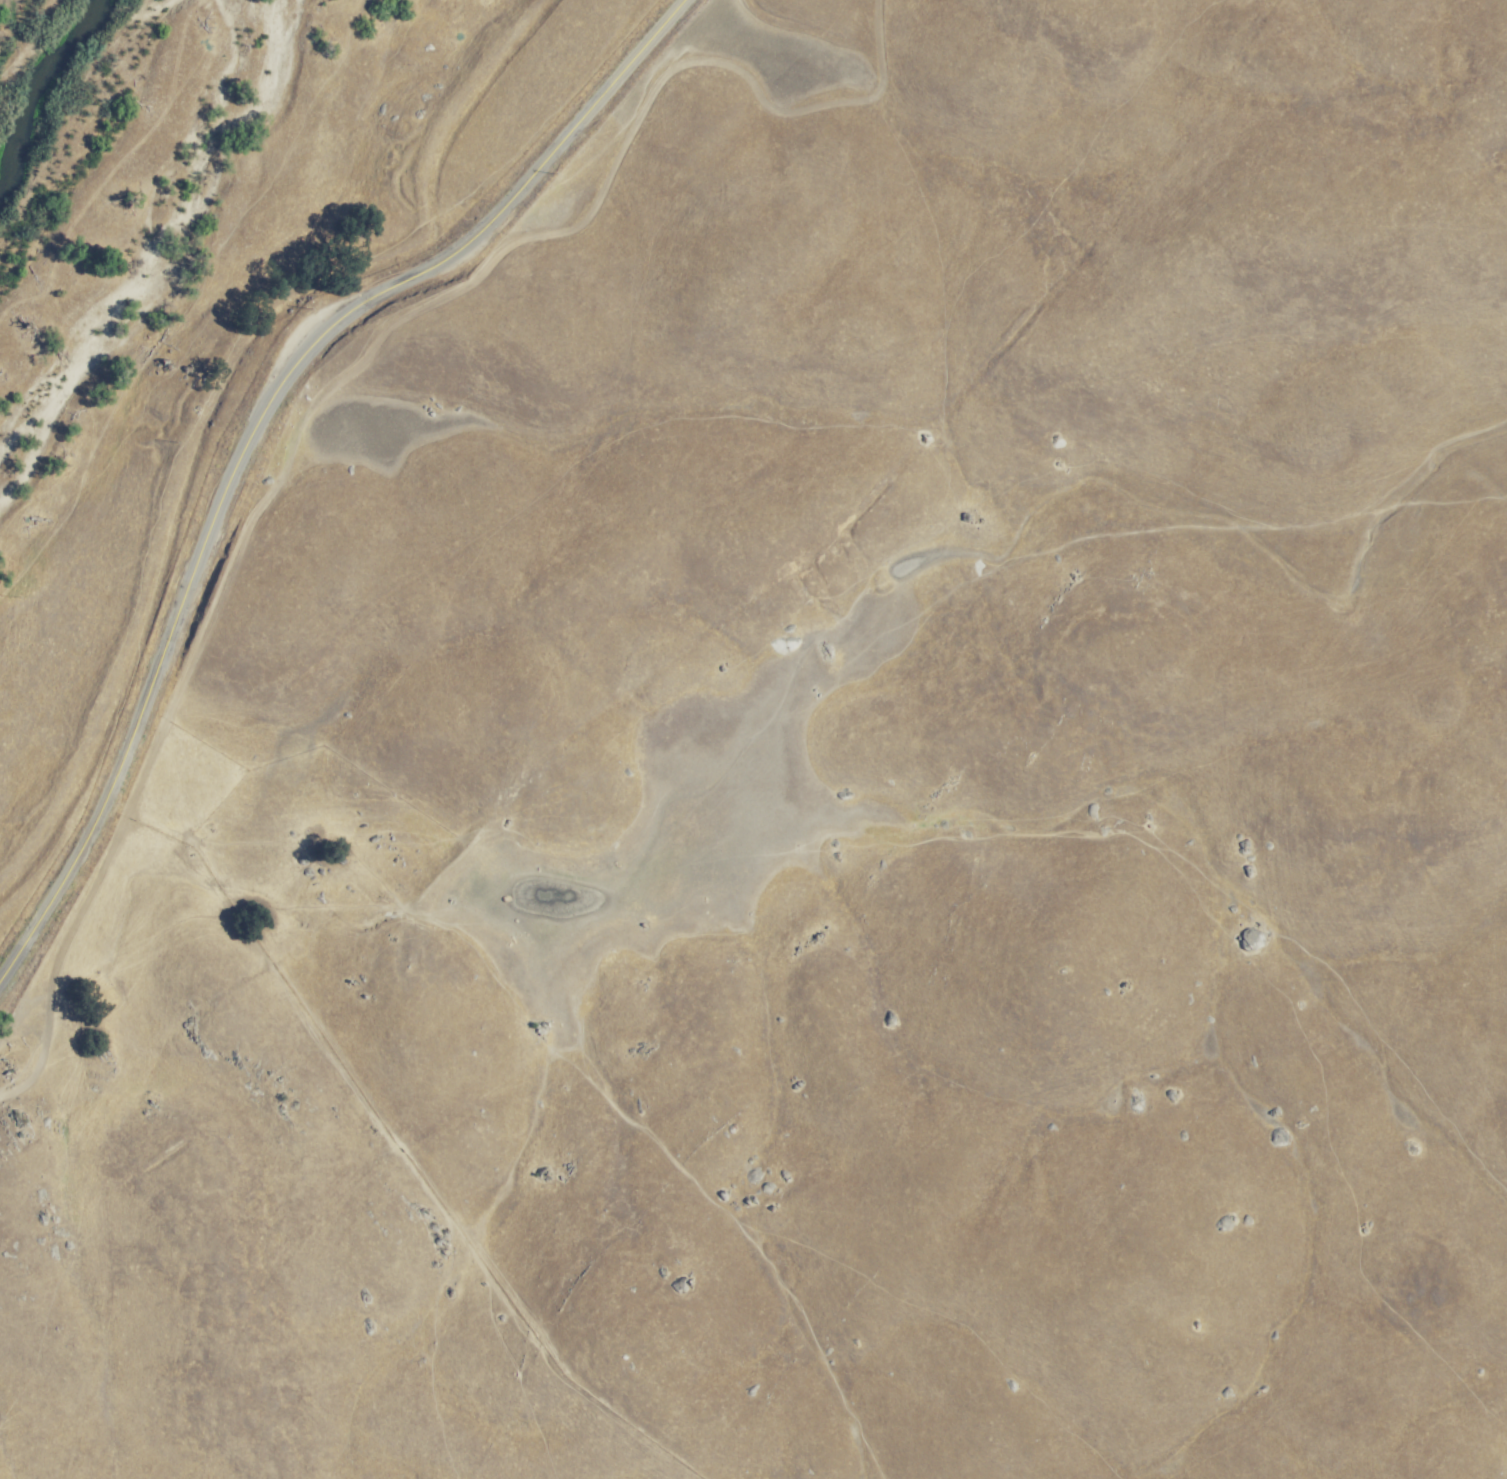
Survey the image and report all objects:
river: (54, 89)
road: (254, 422)

